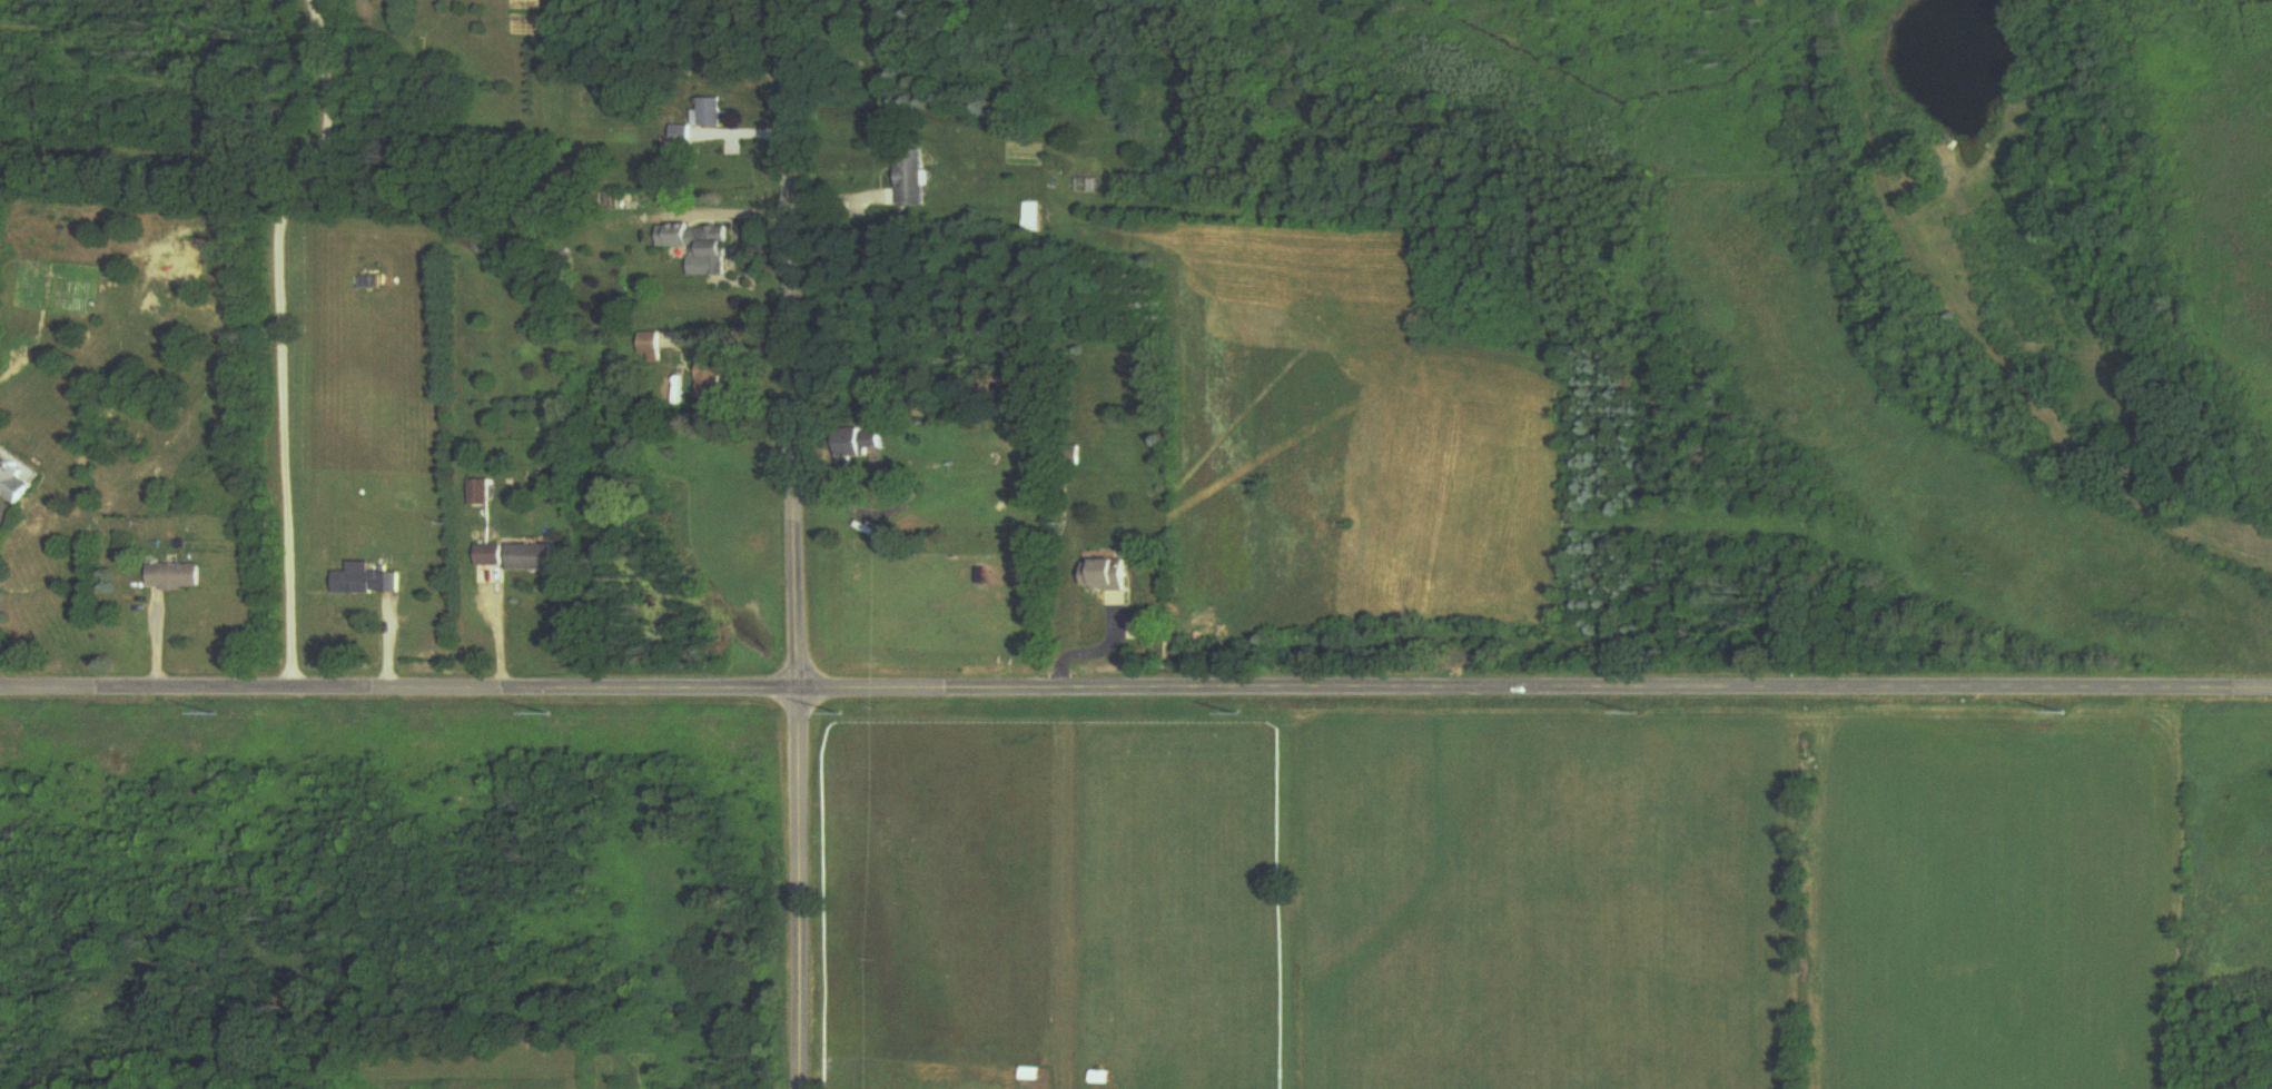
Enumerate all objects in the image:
building: (714, 115)
building: (683, 137)
building: (912, 179)
road: (733, 212)
building: (1031, 218)
building: (701, 245)
building: (369, 283)
road: (279, 336)
building: (650, 347)
building: (711, 384)
building: (857, 444)
building: (17, 477)
building: (481, 493)
road: (799, 544)
building: (517, 557)
building: (1105, 575)
building: (174, 578)
building: (368, 584)
road: (497, 628)
road: (1135, 689)
power tower: (1227, 711)
power tower: (2051, 712)
power tower: (230, 713)
power tower: (1628, 713)
power tower: (846, 715)
power tower: (564, 716)

